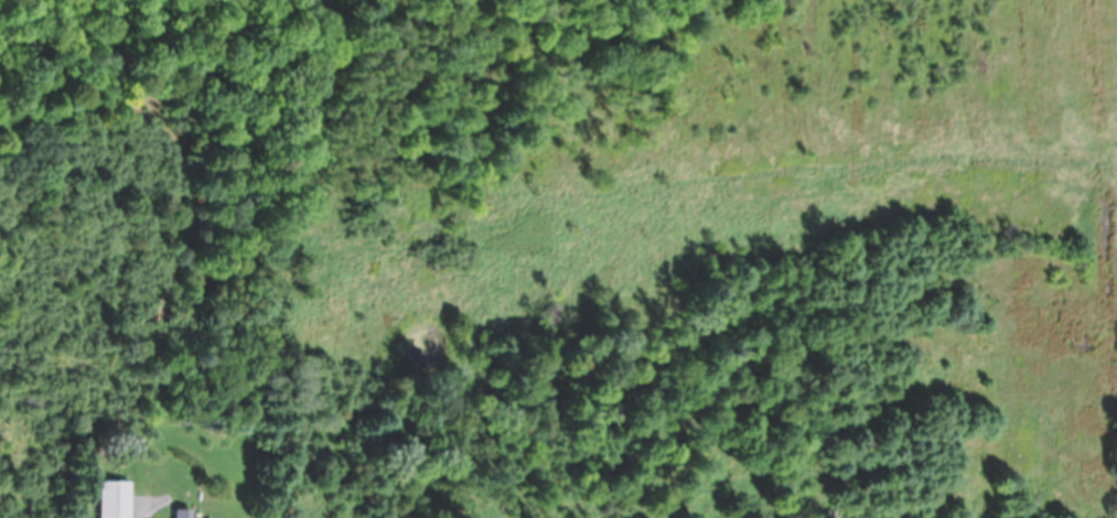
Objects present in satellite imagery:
building: (115, 498)
building: (183, 512)

